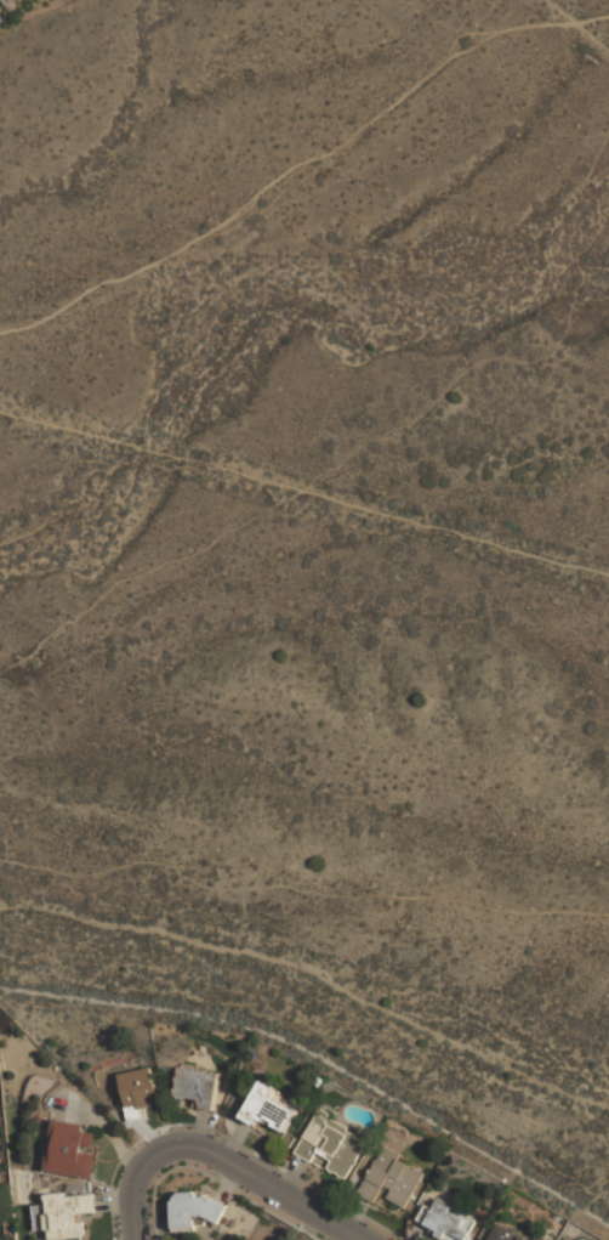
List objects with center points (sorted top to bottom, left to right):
road: (306, 164)
road: (304, 488)
park: (308, 787)
road: (302, 887)
building: (197, 1088)
building: (138, 1092)
building: (271, 1111)
road: (181, 1148)
building: (338, 1150)
building: (70, 1153)
building: (392, 1179)
road: (138, 1182)
road: (283, 1195)
building: (195, 1212)
building: (63, 1217)
building: (448, 1223)
road: (137, 1228)
building: (502, 1234)

